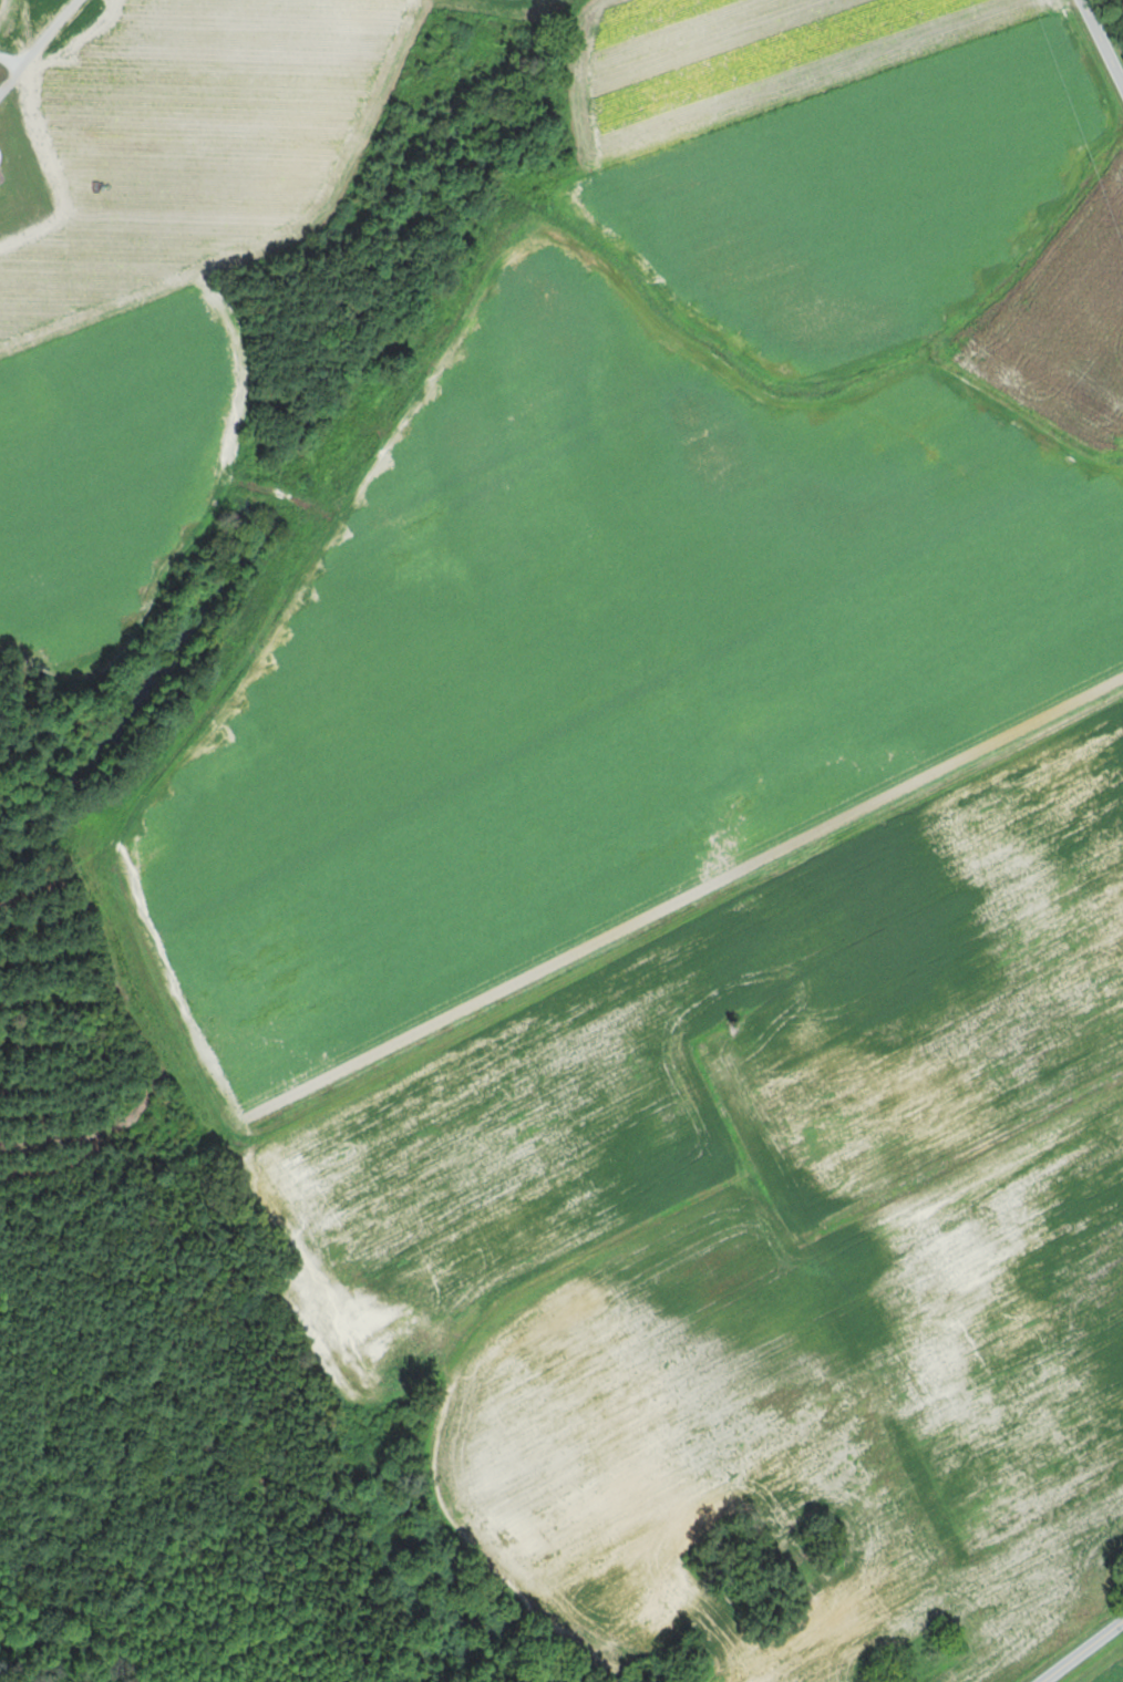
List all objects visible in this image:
road: (1102, 41)
road: (1085, 1653)

